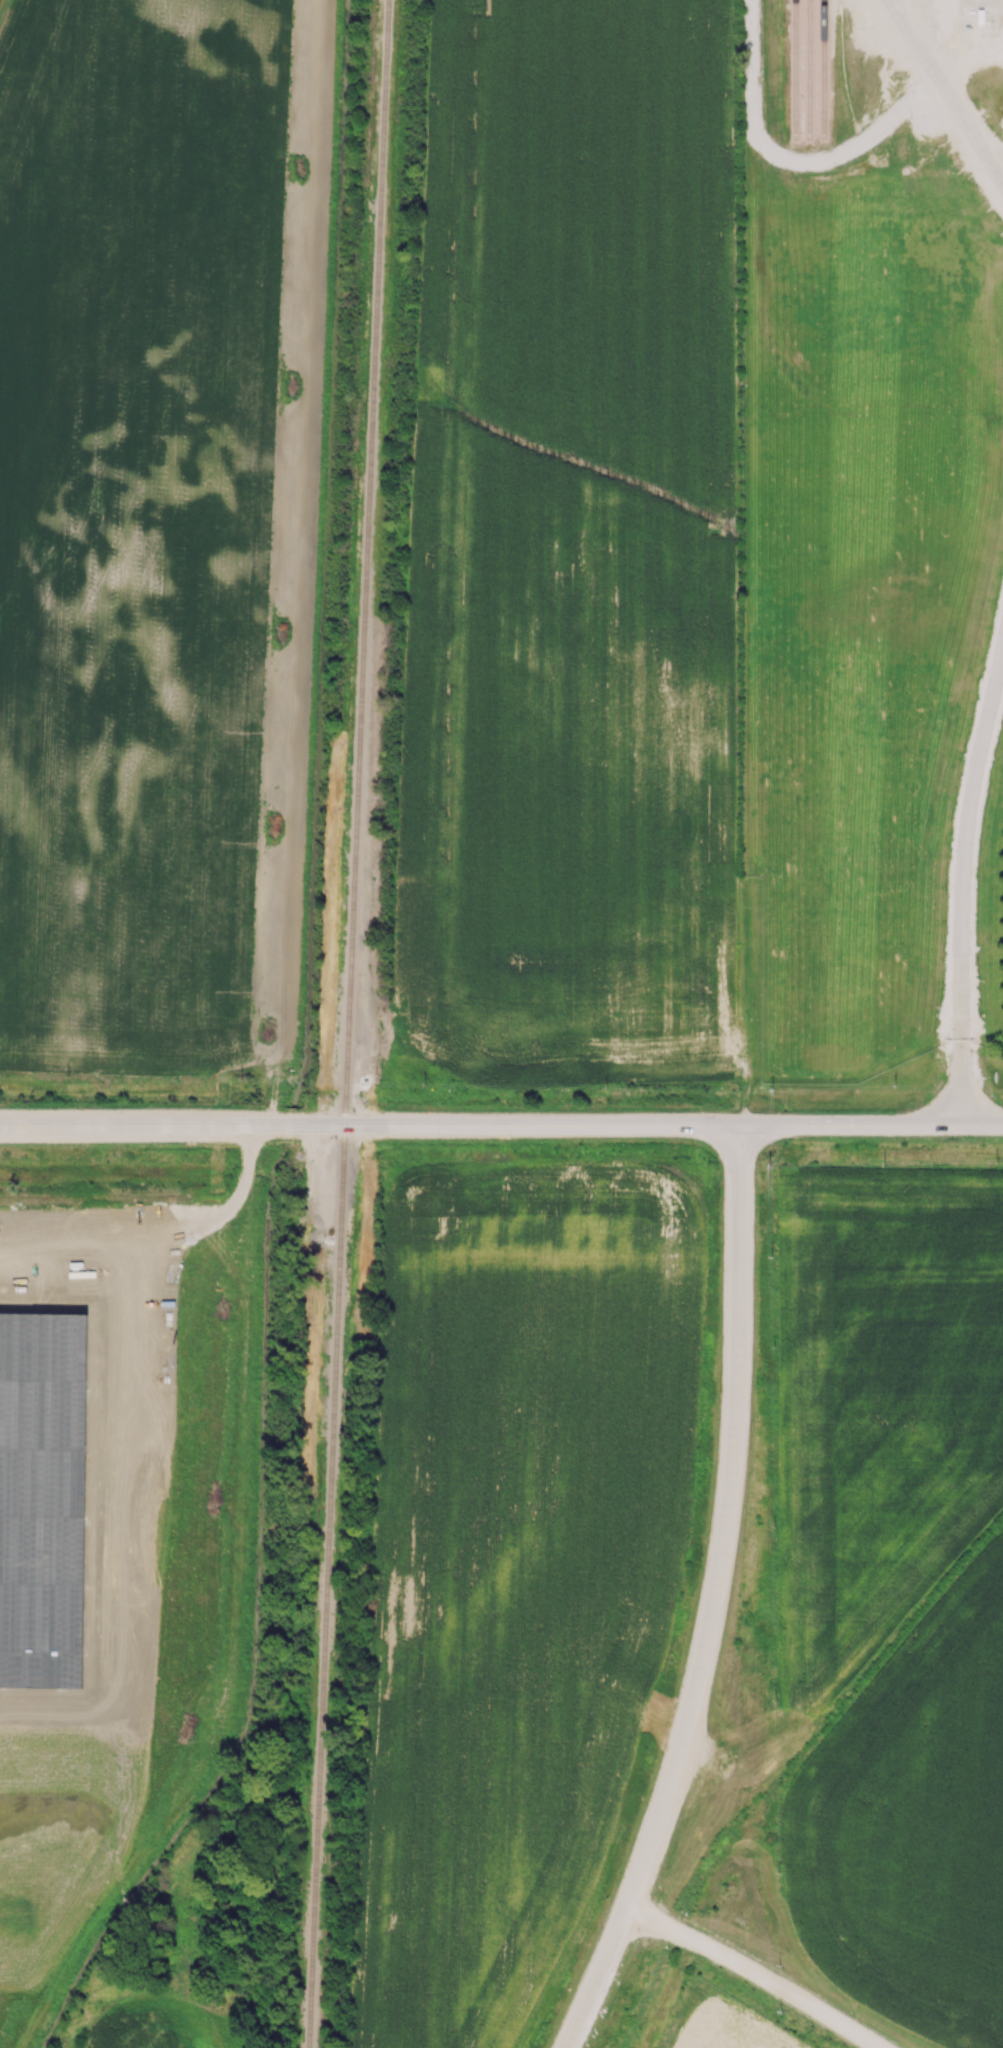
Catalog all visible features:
road: (967, 60)
railway: (796, 68)
railway: (825, 68)
railway: (809, 69)
road: (942, 93)
road: (956, 863)
railway: (345, 1023)
road: (366, 1124)
road: (868, 1124)
road: (719, 1523)
road: (757, 1973)
road: (595, 1980)

